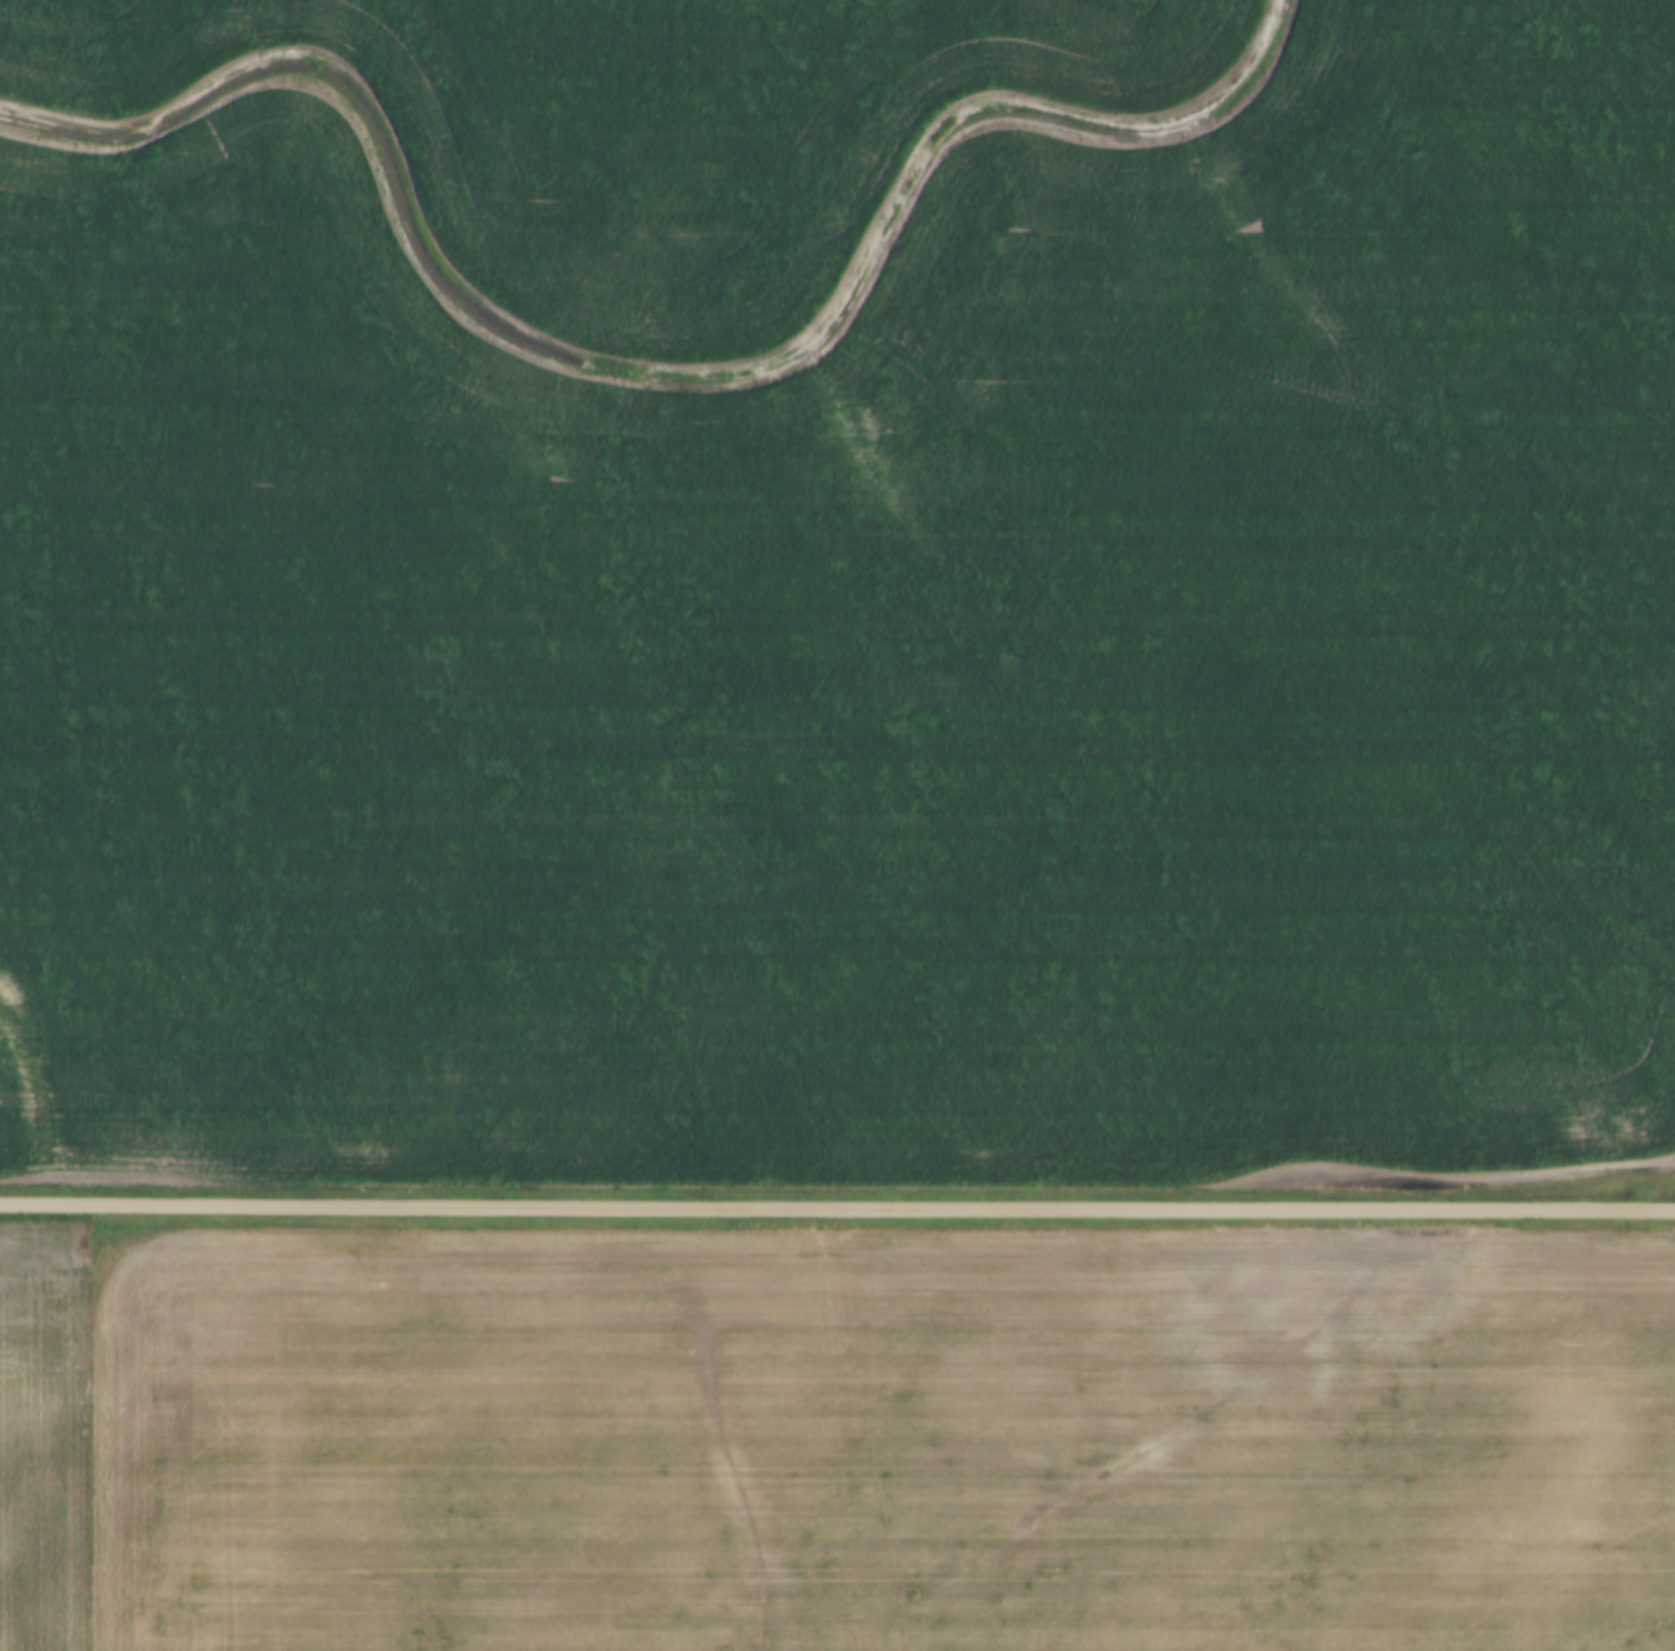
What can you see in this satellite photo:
road: (836, 1207)

